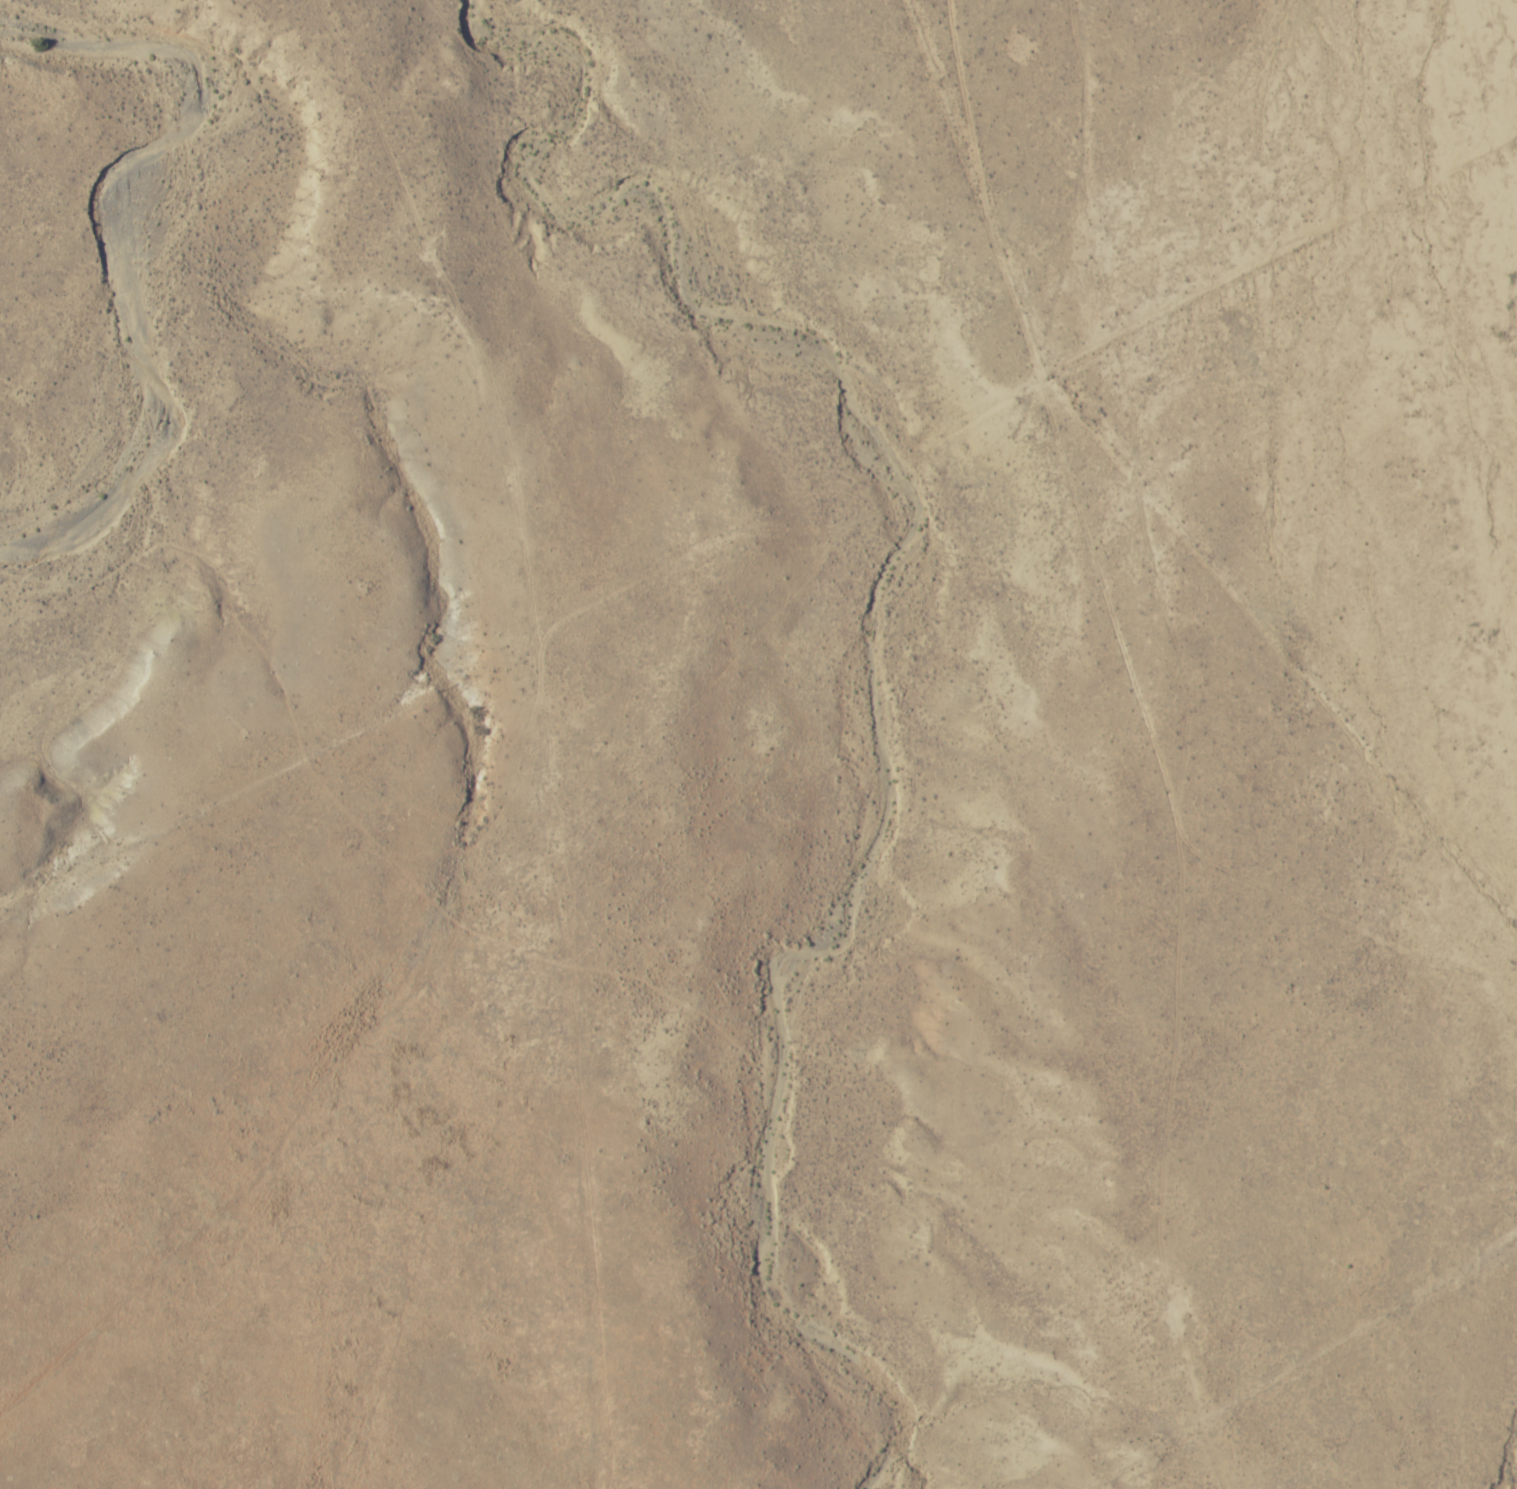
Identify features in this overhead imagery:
river: (157, 240)

